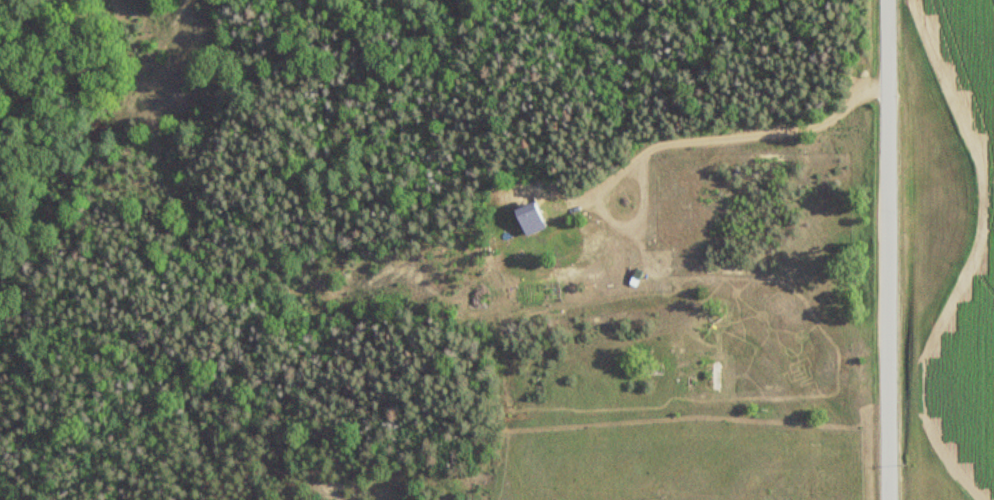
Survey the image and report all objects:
road: (720, 137)
road: (888, 249)
building: (642, 368)

